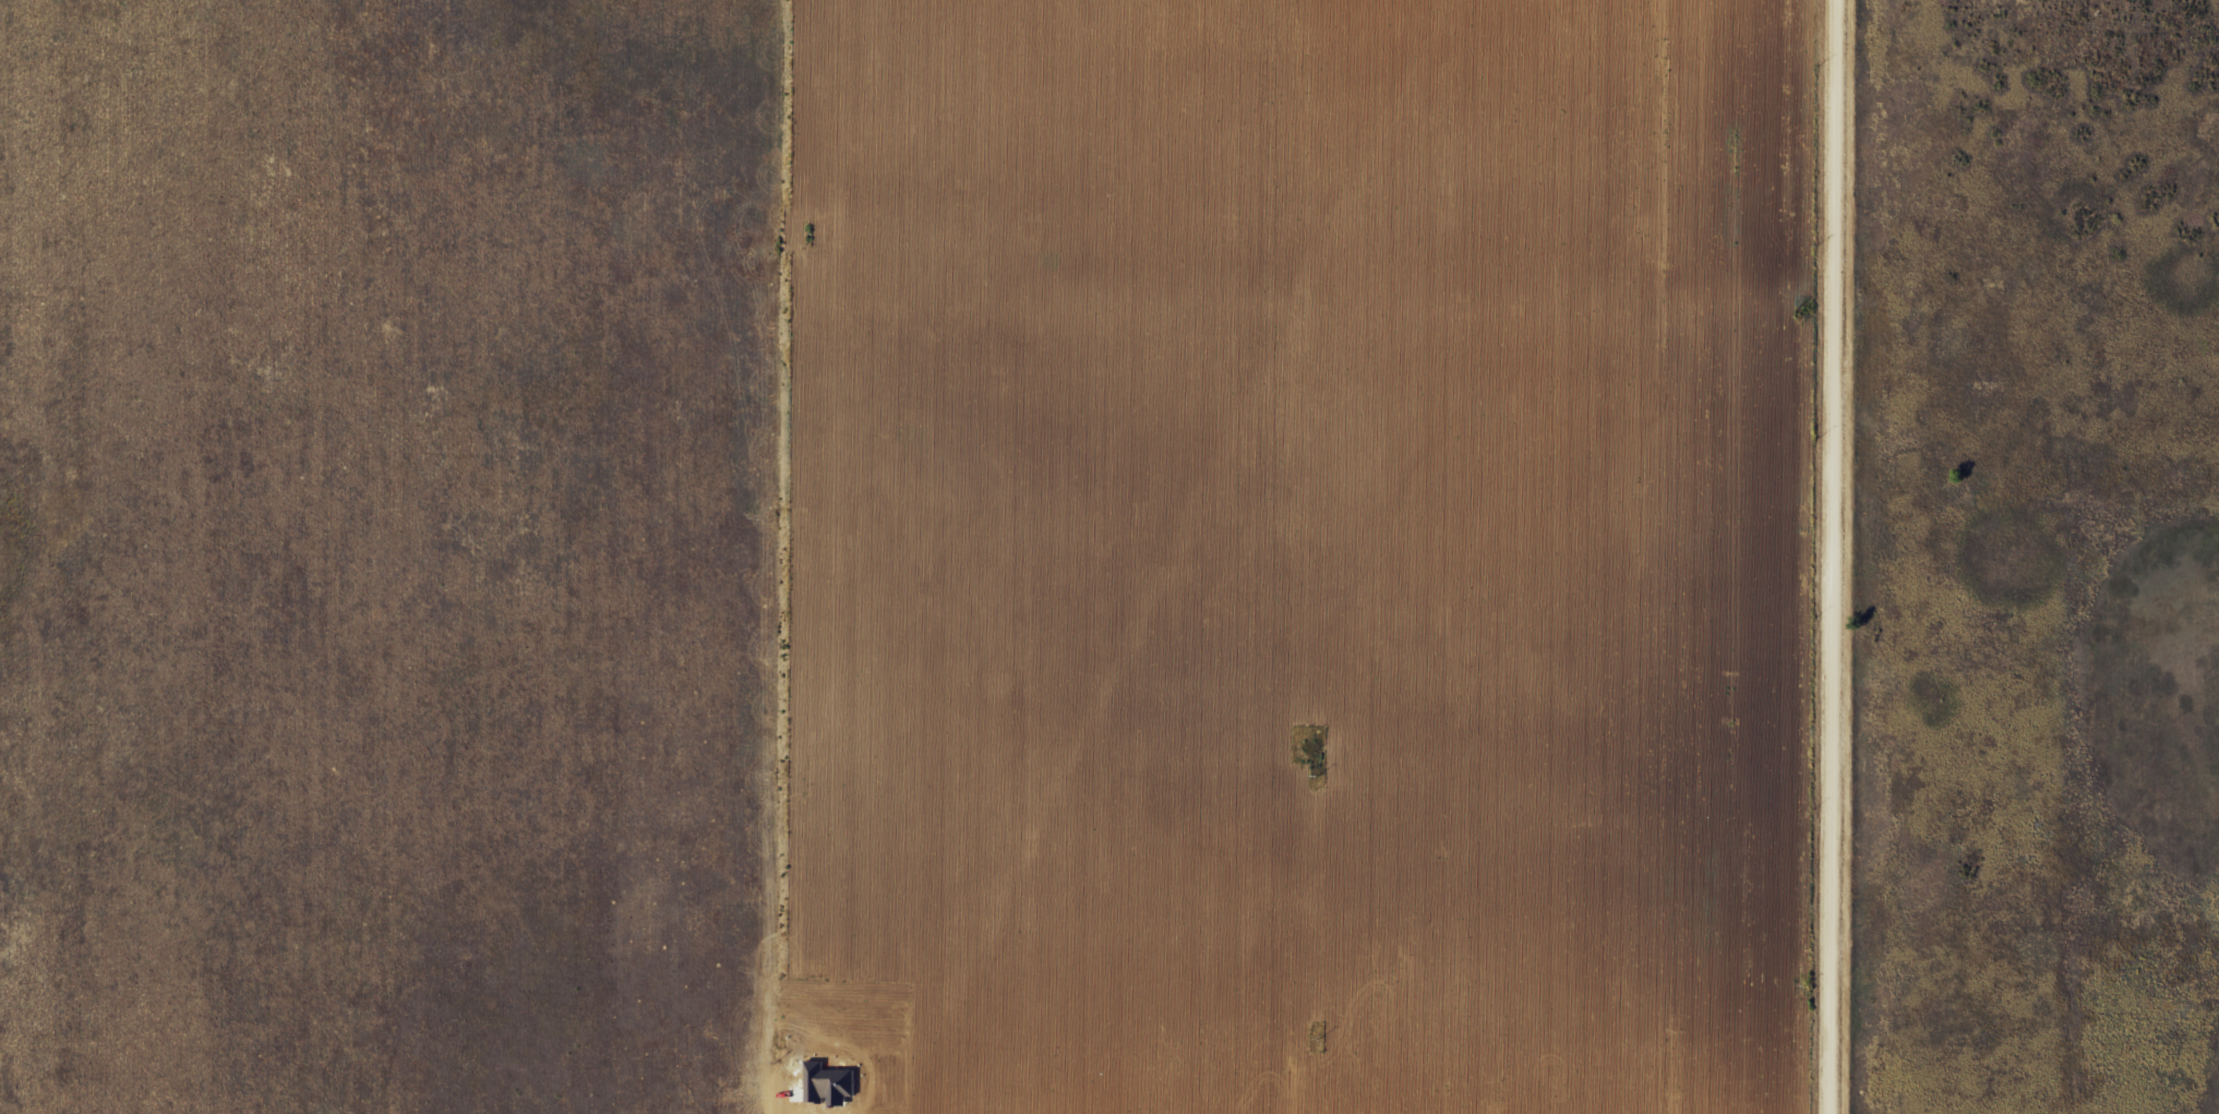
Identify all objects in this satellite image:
road: (1834, 556)

